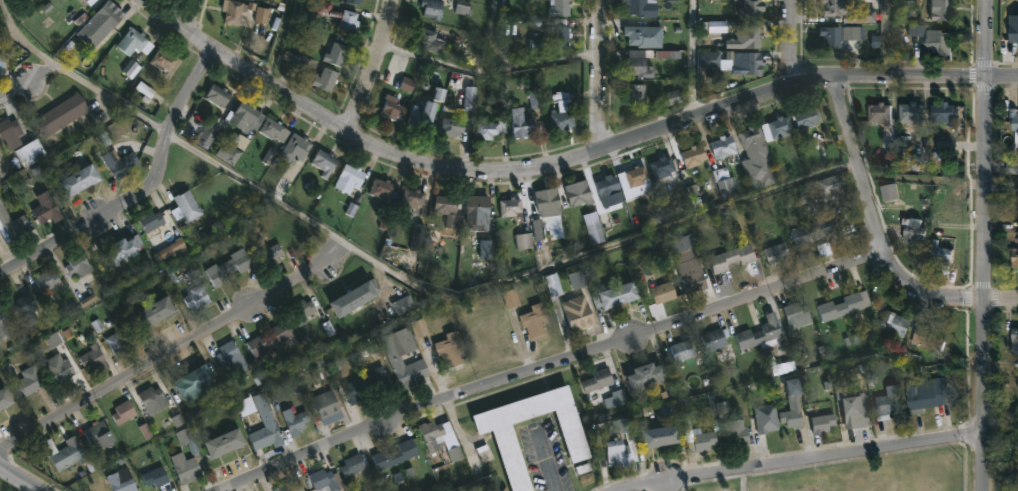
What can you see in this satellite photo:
building: (80, 0)
building: (248, 0)
building: (91, 2)
building: (355, 2)
building: (431, 8)
building: (642, 8)
building: (562, 9)
building: (751, 9)
building: (846, 11)
building: (940, 11)
building: (235, 12)
building: (109, 16)
building: (339, 16)
road: (193, 17)
building: (262, 17)
building: (1014, 30)
building: (559, 35)
building: (860, 35)
building: (645, 37)
building: (826, 37)
road: (890, 38)
road: (987, 38)
building: (745, 39)
building: (429, 40)
road: (791, 41)
building: (135, 42)
building: (939, 42)
building: (339, 53)
road: (699, 58)
building: (165, 60)
building: (752, 64)
road: (370, 65)
building: (641, 65)
road: (518, 70)
road: (602, 74)
building: (326, 80)
road: (27, 83)
building: (408, 86)
building: (638, 93)
building: (217, 95)
building: (675, 98)
building: (393, 108)
building: (876, 112)
building: (908, 112)
building: (940, 113)
building: (63, 114)
building: (246, 117)
building: (425, 117)
building: (808, 118)
building: (564, 120)
building: (1014, 123)
building: (524, 124)
building: (453, 128)
building: (491, 128)
building: (780, 128)
building: (274, 130)
building: (211, 132)
building: (11, 134)
building: (755, 141)
building: (725, 147)
building: (296, 148)
building: (230, 151)
building: (31, 153)
building: (695, 157)
road: (564, 161)
building: (326, 162)
building: (121, 164)
building: (1011, 166)
building: (664, 168)
building: (761, 174)
building: (639, 177)
building: (351, 180)
building: (81, 181)
building: (728, 184)
building: (609, 185)
building: (830, 188)
building: (384, 189)
building: (578, 192)
road: (141, 193)
building: (890, 193)
building: (415, 199)
building: (551, 205)
building: (189, 206)
building: (509, 206)
building: (448, 209)
building: (46, 210)
building: (480, 211)
building: (150, 220)
building: (12, 226)
building: (818, 231)
building: (909, 231)
building: (595, 235)
road: (882, 236)
building: (0, 240)
building: (523, 242)
building: (123, 249)
building: (170, 249)
building: (269, 254)
building: (778, 254)
building: (938, 254)
building: (1013, 256)
building: (734, 258)
building: (79, 264)
building: (228, 267)
building: (691, 270)
building: (49, 281)
road: (987, 284)
building: (663, 291)
building: (616, 294)
building: (357, 296)
building: (196, 297)
road: (471, 299)
building: (511, 299)
building: (840, 305)
building: (158, 309)
building: (30, 310)
building: (303, 310)
building: (579, 312)
building: (795, 314)
building: (537, 320)
building: (890, 322)
building: (4, 327)
building: (764, 333)
building: (924, 337)
building: (1009, 337)
building: (271, 338)
building: (713, 339)
building: (405, 340)
building: (119, 341)
building: (451, 349)
building: (684, 349)
road: (173, 350)
building: (230, 354)
building: (95, 357)
building: (325, 367)
road: (551, 367)
building: (57, 369)
building: (404, 371)
building: (648, 373)
building: (31, 379)
building: (600, 379)
building: (196, 381)
building: (365, 384)
building: (792, 388)
building: (925, 392)
building: (6, 397)
building: (151, 400)
building: (889, 402)
building: (325, 405)
building: (245, 407)
building: (860, 410)
building: (124, 412)
road: (1001, 412)
building: (768, 417)
building: (794, 417)
building: (295, 421)
building: (824, 422)
building: (265, 426)
building: (738, 431)
building: (97, 435)
building: (660, 435)
building: (443, 437)
building: (699, 437)
building: (226, 442)
building: (510, 444)
building: (624, 444)
building: (63, 452)
building: (395, 456)
road: (799, 458)
road: (546, 460)
building: (353, 464)
building: (185, 468)
building: (1011, 473)
building: (155, 476)
road: (18, 479)
building: (327, 480)
building: (121, 481)
building: (495, 485)
building: (291, 486)

